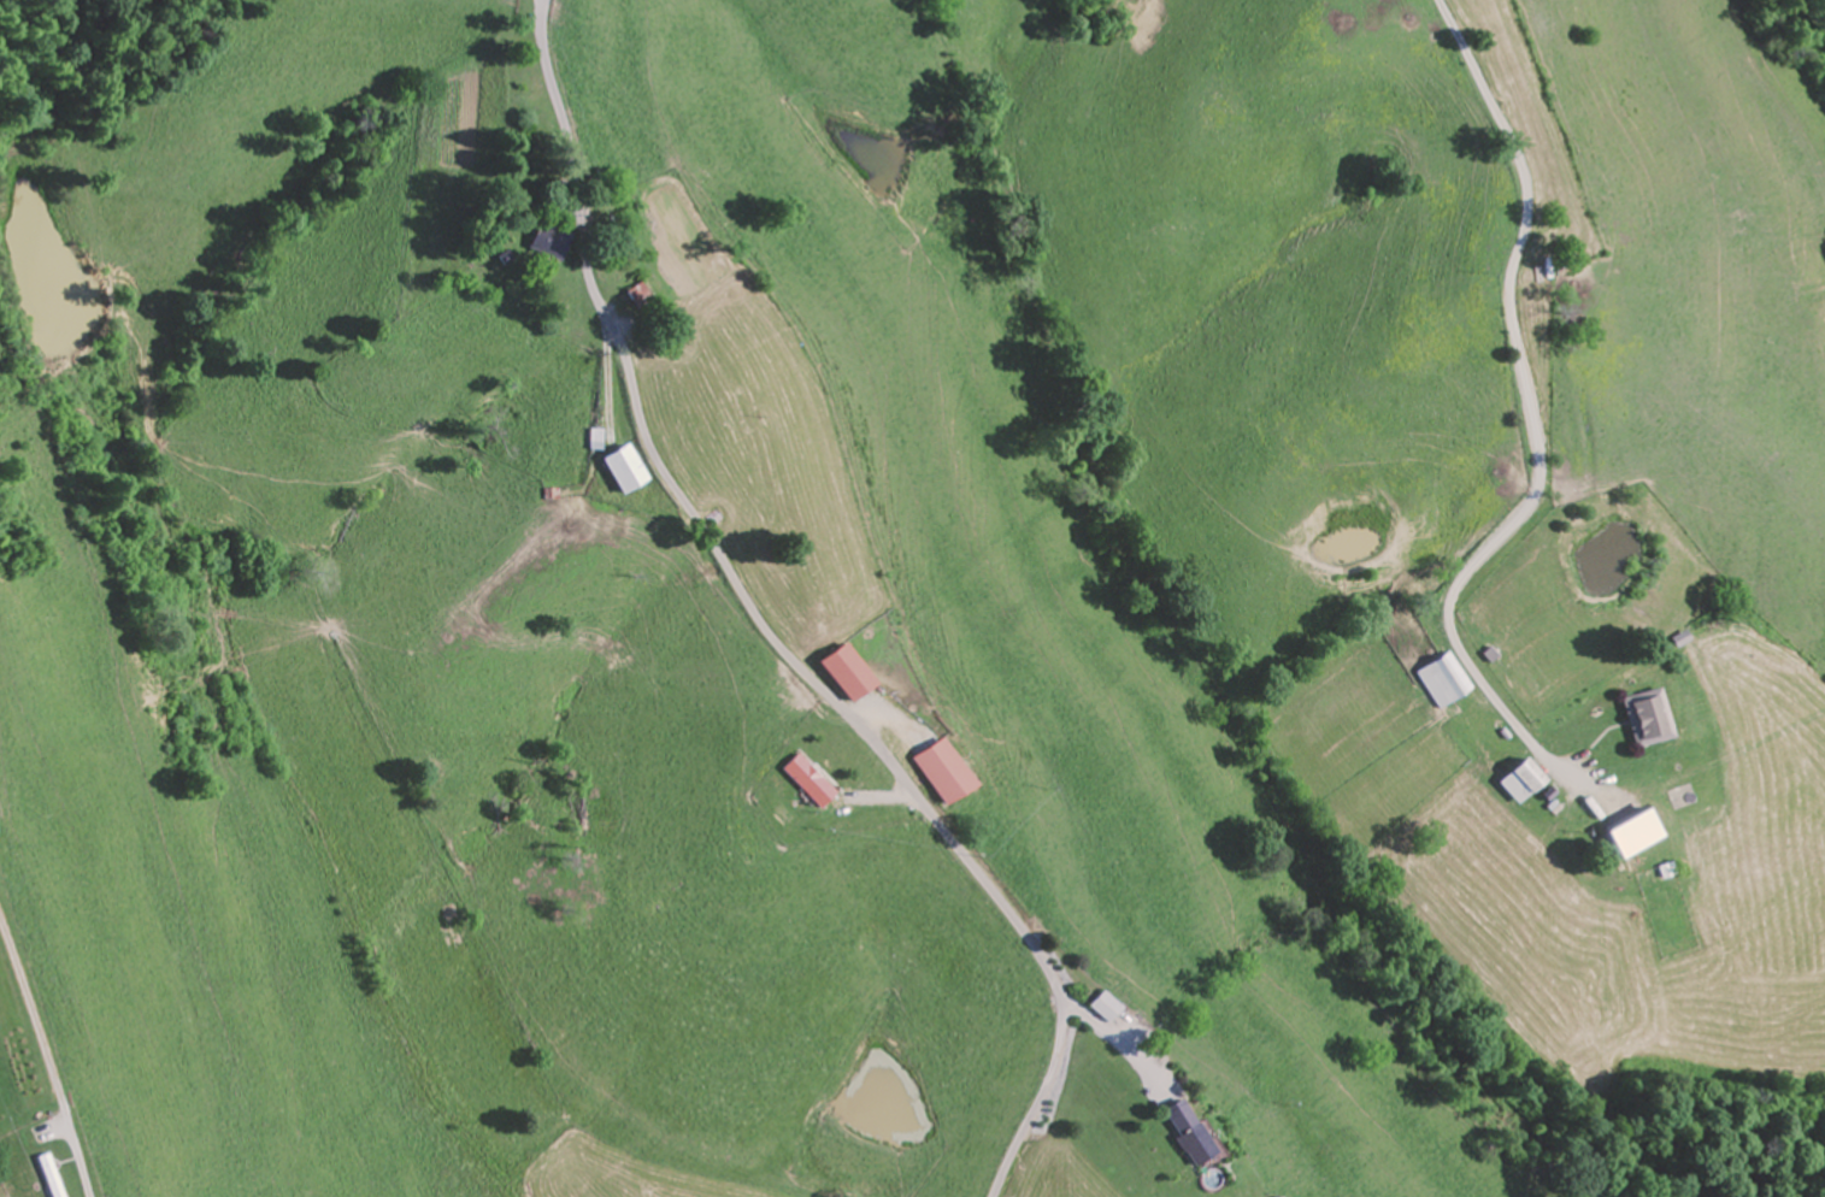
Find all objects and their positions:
building: (549, 242)
building: (640, 296)
road: (1537, 412)
building: (626, 468)
road: (771, 631)
building: (846, 673)
building: (1448, 680)
building: (1648, 718)
building: (941, 773)
building: (1525, 782)
building: (1621, 830)
building: (1105, 1006)
building: (1193, 1144)
building: (48, 1175)

